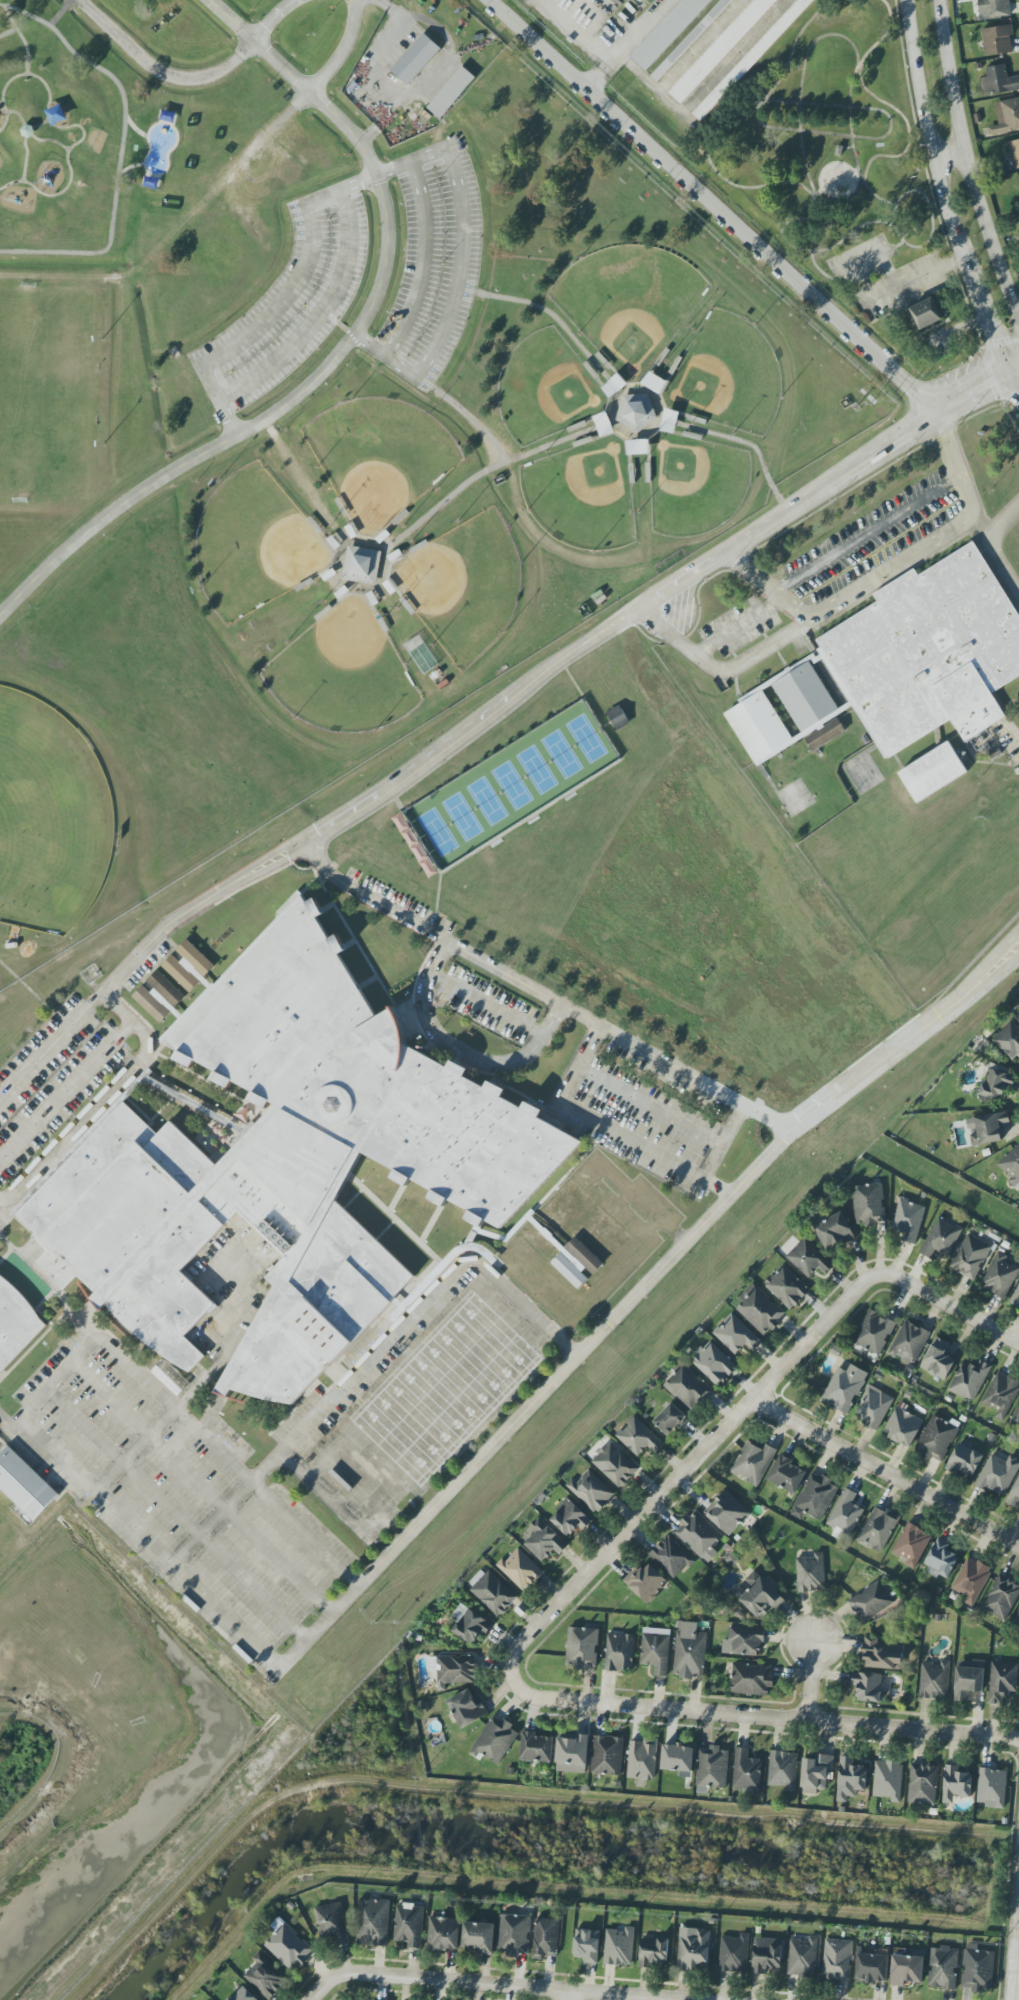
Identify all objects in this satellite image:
building: (994, 8)
road: (272, 18)
road: (7, 32)
building: (669, 33)
road: (20, 39)
building: (690, 39)
building: (997, 40)
road: (627, 44)
road: (699, 45)
building: (720, 49)
road: (342, 51)
road: (731, 56)
building: (415, 59)
building: (750, 59)
road: (163, 70)
road: (34, 74)
building: (998, 81)
road: (799, 86)
road: (653, 87)
building: (451, 92)
building: (1006, 116)
road: (7, 122)
road: (35, 135)
road: (883, 136)
road: (928, 139)
road: (32, 145)
road: (120, 148)
park: (829, 152)
building: (1014, 153)
road: (853, 155)
road: (947, 155)
road: (967, 164)
road: (74, 175)
road: (376, 176)
building: (1018, 176)
road: (713, 205)
road: (893, 213)
road: (840, 241)
road: (896, 245)
road: (861, 261)
road: (421, 262)
parking lot: (431, 263)
road: (459, 265)
road: (815, 269)
road: (886, 272)
road: (911, 281)
road: (281, 301)
parking lot: (289, 303)
park: (628, 304)
building: (926, 313)
road: (319, 317)
road: (556, 320)
road: (986, 325)
road: (350, 337)
road: (341, 351)
road: (384, 355)
traffic signals: (1003, 375)
park: (726, 376)
building: (655, 383)
building: (614, 385)
park: (545, 389)
road: (1011, 389)
park: (45, 402)
road: (218, 402)
building: (635, 410)
park: (327, 411)
road: (465, 413)
building: (669, 422)
road: (652, 431)
road: (741, 442)
building: (638, 447)
park: (378, 457)
road: (957, 462)
road: (485, 471)
road: (828, 484)
park: (694, 485)
park: (582, 495)
road: (1004, 517)
road: (867, 532)
park: (253, 545)
road: (999, 548)
building: (361, 565)
park: (462, 586)
road: (849, 596)
building: (928, 654)
park: (341, 672)
road: (720, 674)
building: (618, 718)
road: (606, 725)
building: (825, 735)
road: (991, 762)
building: (933, 772)
road: (580, 785)
park: (511, 786)
park: (49, 818)
road: (431, 861)
road: (192, 909)
road: (448, 944)
building: (188, 966)
road: (986, 969)
road: (986, 985)
building: (159, 996)
road: (486, 1005)
building: (1008, 1039)
road: (50, 1047)
road: (459, 1053)
building: (996, 1083)
road: (64, 1088)
road: (101, 1102)
road: (647, 1107)
building: (988, 1128)
road: (630, 1142)
building: (1012, 1166)
building: (290, 1170)
building: (869, 1205)
road: (4, 1210)
building: (908, 1220)
building: (834, 1231)
building: (941, 1238)
building: (584, 1255)
building: (970, 1257)
building: (810, 1259)
building: (569, 1271)
building: (1000, 1276)
building: (787, 1287)
building: (1016, 1298)
road: (950, 1307)
building: (759, 1309)
building: (16, 1325)
building: (874, 1332)
road: (217, 1335)
building: (736, 1335)
building: (909, 1342)
road: (370, 1359)
building: (938, 1360)
building: (714, 1364)
building: (170, 1378)
road: (401, 1379)
building: (970, 1380)
building: (687, 1387)
building: (846, 1387)
road: (49, 1388)
building: (1001, 1395)
road: (530, 1403)
road: (429, 1406)
building: (873, 1407)
building: (1016, 1417)
building: (670, 1419)
building: (903, 1427)
building: (639, 1437)
building: (937, 1439)
road: (134, 1450)
road: (218, 1451)
building: (965, 1460)
building: (753, 1462)
building: (615, 1465)
road: (685, 1466)
road: (417, 1473)
road: (884, 1473)
building: (787, 1474)
building: (998, 1475)
building: (24, 1484)
road: (202, 1487)
building: (592, 1491)
building: (1015, 1495)
building: (815, 1498)
building: (727, 1513)
building: (845, 1513)
road: (175, 1516)
building: (570, 1518)
building: (879, 1528)
park: (5, 1535)
building: (699, 1536)
building: (544, 1540)
road: (148, 1543)
building: (911, 1544)
building: (671, 1557)
building: (941, 1558)
building: (520, 1569)
building: (811, 1573)
building: (971, 1580)
building: (647, 1582)
building: (492, 1592)
building: (758, 1596)
building: (1001, 1597)
building: (871, 1602)
building: (1017, 1617)
building: (469, 1624)
building: (743, 1642)
building: (581, 1648)
building: (656, 1650)
building: (689, 1651)
building: (619, 1652)
building: (883, 1653)
building: (453, 1669)
building: (968, 1679)
building: (751, 1680)
road: (810, 1681)
building: (934, 1681)
building: (1002, 1681)
building: (868, 1686)
building: (467, 1708)
road: (757, 1717)
building: (495, 1740)
building: (536, 1747)
building: (572, 1753)
building: (607, 1755)
building: (642, 1759)
building: (678, 1759)
building: (712, 1767)
building: (783, 1769)
building: (746, 1772)
building: (816, 1773)
building: (850, 1778)
building: (888, 1780)
building: (923, 1784)
building: (956, 1784)
building: (992, 1788)
building: (332, 1922)
building: (373, 1922)
building: (409, 1925)
building: (443, 1934)
building: (514, 1935)
building: (479, 1937)
building: (546, 1938)
building: (587, 1945)
building: (288, 1946)
building: (619, 1947)
building: (693, 1949)
building: (653, 1952)
building: (734, 1954)
building: (767, 1955)
building: (803, 1957)
road: (1015, 1957)
building: (837, 1959)
building: (907, 1966)
building: (872, 1968)
building: (943, 1968)
building: (977, 1969)
building: (265, 1977)
road: (505, 1985)
road: (321, 1986)
building: (243, 1995)
road: (565, 1995)

